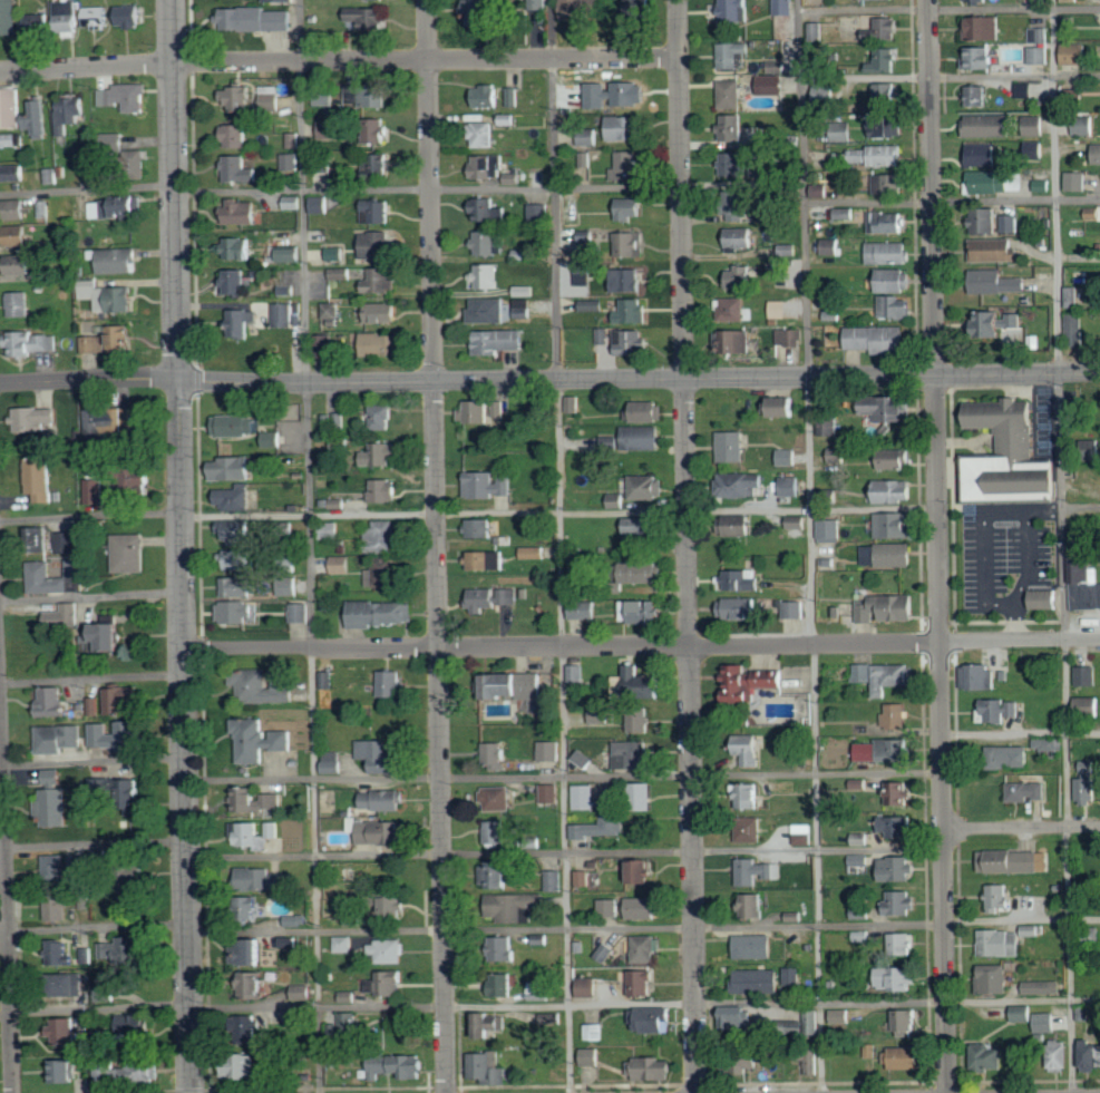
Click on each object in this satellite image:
building: (283, 0)
building: (367, 0)
building: (975, 0)
building: (535, 4)
building: (783, 7)
road: (947, 7)
building: (637, 8)
building: (580, 9)
building: (736, 10)
building: (478, 12)
building: (67, 14)
building: (129, 16)
building: (8, 17)
building: (366, 19)
building: (256, 20)
building: (38, 25)
building: (885, 28)
building: (983, 28)
building: (1038, 36)
building: (732, 53)
building: (1075, 53)
building: (1039, 55)
building: (979, 57)
building: (886, 60)
road: (339, 61)
building: (777, 66)
road: (950, 76)
building: (772, 85)
building: (1024, 90)
building: (620, 92)
building: (731, 94)
building: (376, 95)
building: (888, 95)
building: (271, 96)
building: (485, 96)
building: (825, 96)
building: (976, 96)
building: (125, 97)
building: (325, 97)
building: (513, 97)
building: (237, 98)
building: (570, 101)
building: (10, 108)
building: (69, 114)
building: (37, 118)
building: (505, 119)
building: (990, 126)
building: (1034, 126)
building: (624, 128)
building: (731, 128)
building: (887, 128)
building: (1084, 128)
building: (330, 130)
building: (377, 130)
building: (483, 130)
building: (235, 136)
building: (843, 136)
building: (587, 137)
building: (9, 139)
building: (291, 140)
building: (1035, 149)
building: (1097, 154)
building: (982, 155)
building: (878, 156)
building: (584, 159)
building: (288, 162)
building: (139, 163)
building: (737, 164)
building: (625, 165)
building: (487, 166)
building: (379, 167)
building: (241, 169)
building: (13, 173)
building: (51, 176)
building: (514, 178)
building: (1075, 180)
building: (994, 182)
building: (889, 184)
road: (88, 188)
road: (176, 189)
road: (428, 189)
road: (952, 202)
building: (292, 203)
building: (319, 205)
building: (734, 206)
building: (116, 207)
building: (14, 209)
building: (45, 209)
building: (629, 209)
building: (487, 211)
building: (243, 212)
building: (378, 212)
building: (539, 212)
building: (846, 213)
building: (1092, 213)
building: (986, 221)
building: (887, 222)
building: (1010, 224)
building: (19, 235)
building: (739, 237)
building: (485, 243)
building: (631, 244)
building: (378, 245)
building: (830, 246)
building: (237, 248)
building: (788, 250)
building: (996, 251)
building: (887, 253)
building: (335, 254)
building: (293, 255)
building: (116, 261)
building: (19, 264)
building: (341, 273)
building: (584, 274)
building: (485, 276)
building: (739, 277)
building: (382, 280)
building: (627, 280)
building: (895, 280)
building: (235, 282)
building: (996, 282)
building: (288, 290)
building: (524, 291)
building: (109, 297)
building: (1071, 300)
building: (19, 304)
building: (593, 305)
building: (523, 309)
building: (734, 309)
building: (895, 309)
building: (331, 311)
building: (489, 311)
building: (633, 311)
building: (383, 313)
building: (284, 315)
building: (995, 323)
building: (1074, 329)
building: (603, 335)
building: (789, 338)
building: (121, 339)
building: (877, 339)
building: (500, 341)
building: (736, 341)
building: (633, 342)
building: (32, 343)
building: (93, 344)
building: (382, 344)
building: (328, 345)
road: (90, 380)
road: (640, 380)
building: (785, 407)
building: (885, 408)
building: (934, 409)
building: (481, 411)
building: (649, 411)
building: (382, 417)
building: (35, 419)
building: (128, 419)
building: (333, 419)
building: (100, 421)
building: (236, 424)
building: (828, 427)
building: (642, 438)
building: (274, 439)
building: (732, 447)
building: (1087, 450)
building: (382, 453)
building: (836, 456)
building: (1004, 456)
building: (787, 458)
building: (897, 459)
building: (232, 469)
building: (40, 479)
building: (128, 482)
building: (742, 485)
building: (487, 486)
building: (789, 487)
building: (648, 488)
building: (94, 491)
building: (384, 491)
building: (894, 491)
building: (235, 499)
building: (615, 501)
road: (549, 511)
building: (740, 525)
building: (895, 526)
building: (479, 528)
building: (331, 530)
building: (637, 530)
building: (236, 531)
building: (830, 531)
building: (37, 535)
building: (382, 536)
building: (68, 544)
road: (198, 546)
road: (308, 546)
road: (436, 546)
road: (558, 546)
road: (687, 546)
road: (809, 546)
road: (937, 546)
road: (1061, 546)
building: (132, 553)
building: (533, 553)
building: (888, 555)
building: (239, 559)
building: (487, 560)
building: (341, 565)
building: (40, 569)
building: (382, 573)
building: (645, 573)
building: (742, 580)
building: (1081, 583)
building: (237, 587)
road: (90, 593)
building: (491, 598)
building: (1041, 598)
building: (738, 608)
building: (794, 608)
building: (888, 608)
building: (582, 609)
building: (237, 612)
building: (641, 612)
building: (299, 613)
building: (382, 614)
building: (62, 616)
building: (111, 637)
road: (641, 647)
building: (575, 673)
building: (885, 675)
building: (979, 675)
building: (1087, 676)
road: (91, 677)
building: (325, 680)
building: (749, 682)
building: (391, 683)
building: (635, 683)
building: (515, 684)
building: (262, 685)
building: (120, 700)
building: (53, 701)
building: (1089, 703)
building: (91, 706)
building: (999, 710)
building: (600, 715)
building: (895, 716)
building: (640, 720)
road: (1021, 731)
building: (117, 736)
road: (184, 736)
building: (59, 739)
building: (260, 740)
building: (1045, 744)
building: (549, 750)
building: (885, 750)
building: (749, 753)
building: (382, 754)
building: (496, 754)
building: (633, 754)
building: (1013, 755)
building: (583, 759)
road: (91, 760)
building: (332, 762)
building: (1087, 768)
road: (563, 774)
building: (52, 777)
building: (859, 782)
building: (103, 788)
building: (1087, 788)
building: (899, 791)
building: (1025, 791)
building: (551, 792)
building: (641, 792)
building: (751, 794)
building: (583, 797)
building: (498, 798)
building: (255, 799)
building: (383, 799)
building: (55, 807)
building: (899, 824)
building: (598, 827)
road: (1021, 828)
building: (751, 829)
building: (377, 831)
building: (495, 831)
building: (255, 833)
building: (805, 835)
building: (860, 838)
road: (93, 842)
road: (565, 850)
building: (859, 860)
building: (1016, 860)
building: (55, 866)
building: (898, 868)
building: (756, 871)
building: (643, 872)
building: (498, 874)
building: (582, 878)
building: (264, 879)
building: (553, 880)
building: (129, 890)
building: (997, 897)
building: (903, 901)
building: (390, 904)
building: (753, 905)
building: (58, 906)
building: (518, 906)
building: (609, 907)
building: (642, 907)
building: (861, 913)
road: (7, 915)
building: (298, 919)
building: (352, 920)
road: (897, 925)
road: (94, 927)
road: (441, 929)
building: (1007, 940)
building: (291, 941)
building: (902, 943)
building: (342, 944)
building: (755, 946)
building: (504, 947)
building: (646, 948)
building: (121, 949)
building: (256, 949)
building: (387, 950)
building: (606, 950)
building: (61, 953)
building: (792, 976)
building: (896, 977)
building: (994, 978)
building: (643, 980)
building: (756, 980)
building: (255, 983)
building: (386, 983)
building: (75, 984)
building: (503, 984)
building: (587, 985)
building: (1044, 987)
building: (541, 990)
building: (302, 992)
building: (107, 994)
building: (350, 996)
road: (645, 1003)
road: (95, 1008)
building: (838, 1016)
building: (552, 1017)
building: (736, 1017)
building: (1034, 1017)
building: (295, 1018)
building: (378, 1018)
building: (652, 1018)
building: (135, 1022)
building: (907, 1022)
building: (486, 1024)
building: (64, 1029)
building: (594, 1032)
building: (869, 1050)
building: (1060, 1054)
building: (1091, 1055)
building: (989, 1056)
building: (904, 1057)
building: (811, 1060)
building: (243, 1065)
building: (398, 1065)
building: (488, 1066)
building: (652, 1067)
building: (106, 1068)
building: (67, 1070)
building: (146, 1070)
road: (1086, 1092)

